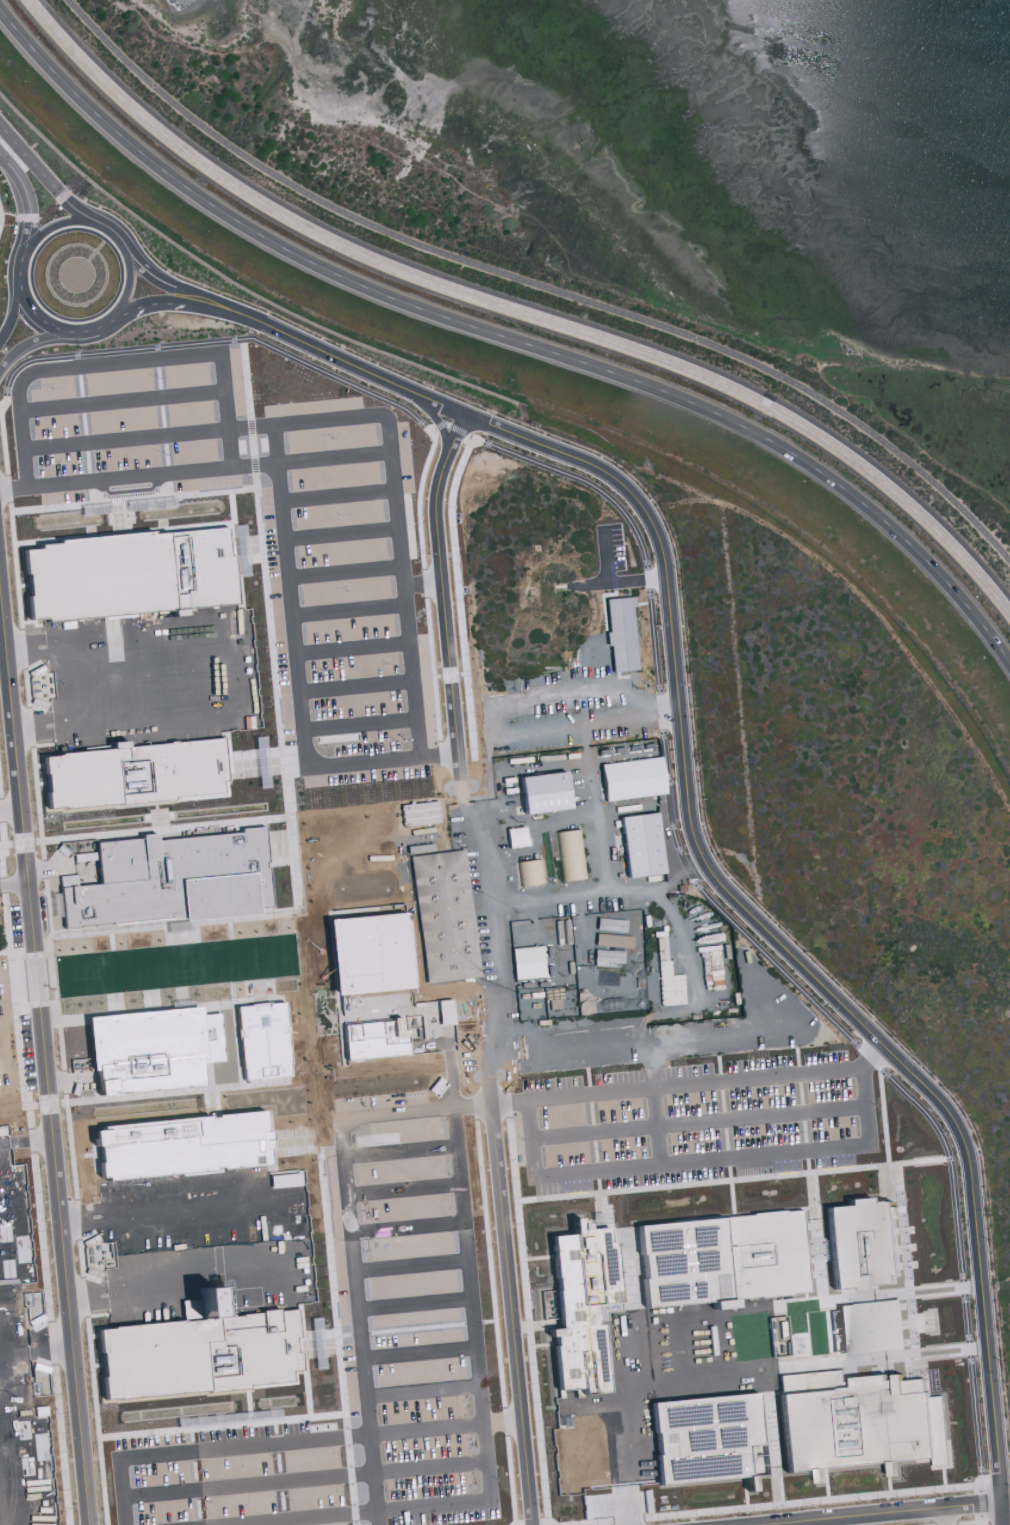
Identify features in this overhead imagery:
road: (54, 227)
park: (567, 242)
road: (18, 256)
road: (536, 285)
road: (166, 304)
road: (518, 312)
road: (96, 329)
road: (505, 338)
road: (32, 345)
road: (338, 355)
road: (120, 363)
road: (119, 402)
road: (122, 439)
road: (273, 446)
road: (332, 461)
road: (335, 496)
road: (394, 508)
road: (339, 536)
building: (318, 546)
road: (282, 551)
road: (342, 573)
road: (346, 610)
building: (618, 632)
road: (349, 648)
road: (353, 687)
road: (356, 725)
road: (519, 730)
road: (452, 745)
road: (7, 766)
building: (130, 772)
building: (634, 780)
building: (540, 792)
building: (424, 802)
road: (692, 821)
building: (513, 836)
building: (638, 843)
road: (593, 845)
building: (569, 854)
building: (235, 867)
building: (528, 872)
building: (378, 877)
building: (445, 916)
building: (524, 961)
building: (386, 970)
road: (17, 971)
road: (724, 1034)
building: (197, 1038)
road: (42, 1044)
road: (590, 1047)
road: (882, 1047)
building: (442, 1055)
road: (659, 1126)
road: (709, 1161)
building: (455, 1182)
building: (856, 1240)
building: (760, 1254)
road: (414, 1266)
road: (32, 1287)
building: (430, 1292)
building: (399, 1305)
building: (579, 1307)
road: (513, 1314)
road: (365, 1322)
building: (868, 1327)
road: (227, 1417)
road: (885, 1509)

